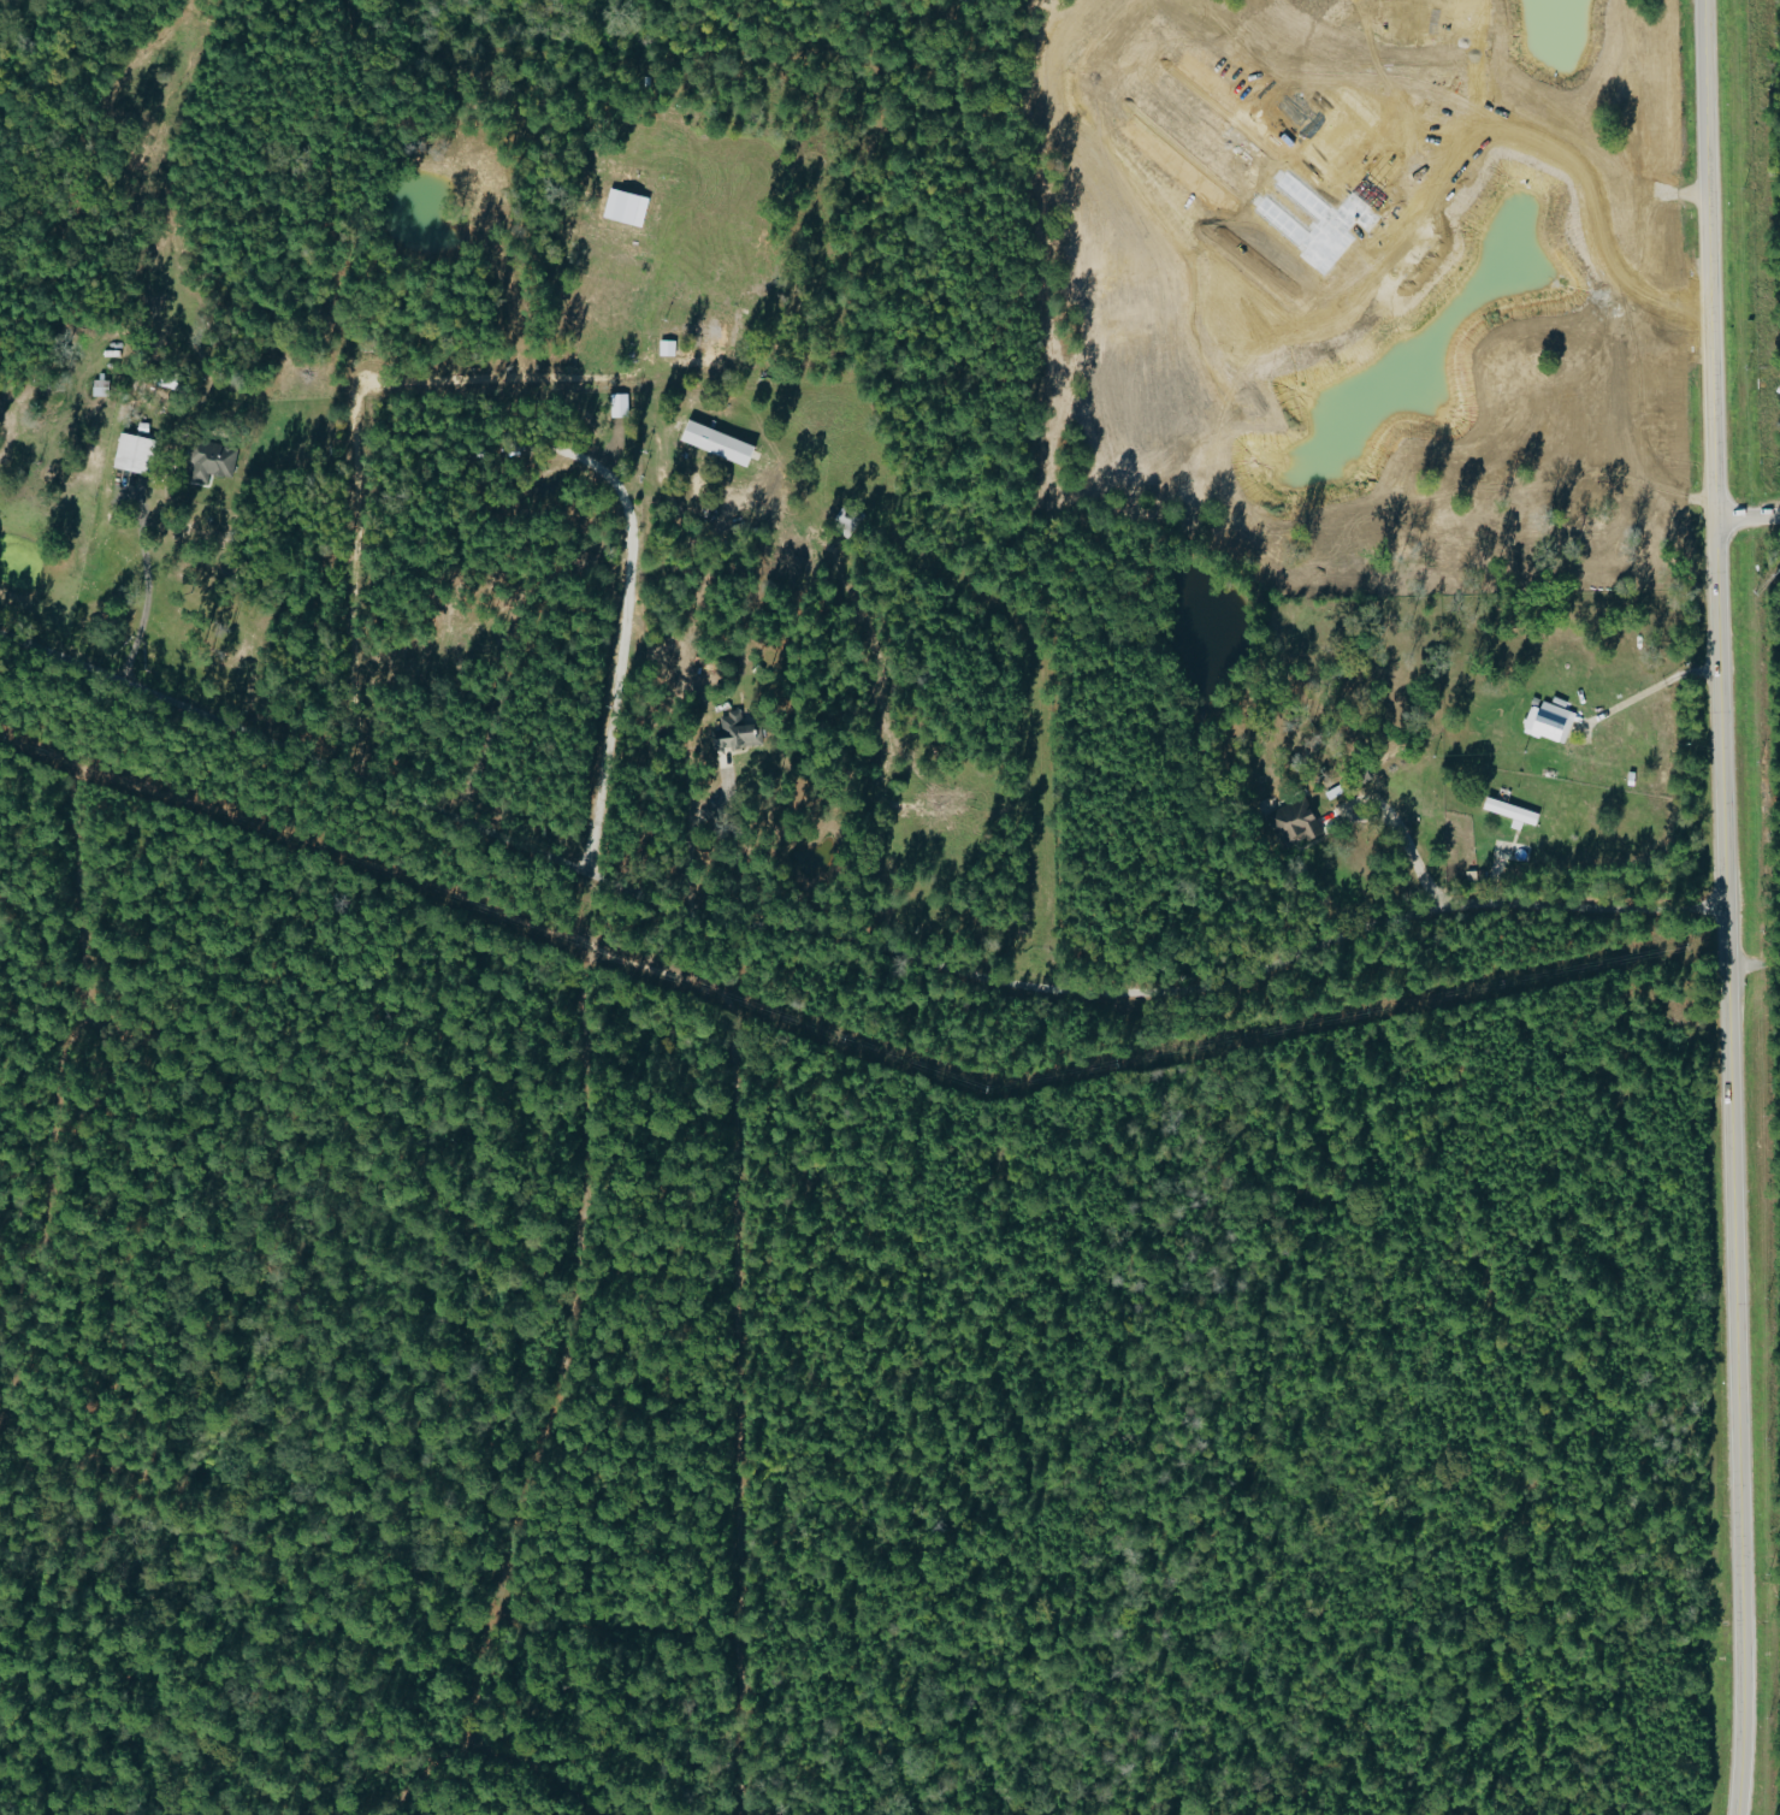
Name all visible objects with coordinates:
building: (629, 207)
building: (728, 332)
building: (670, 348)
building: (102, 388)
building: (723, 443)
building: (138, 454)
building: (215, 460)
road: (1741, 515)
road: (632, 563)
road: (147, 585)
road: (673, 686)
road: (1652, 699)
building: (1548, 722)
building: (1508, 812)
building: (1294, 823)
road: (1412, 855)
road: (1714, 908)
road: (839, 942)

